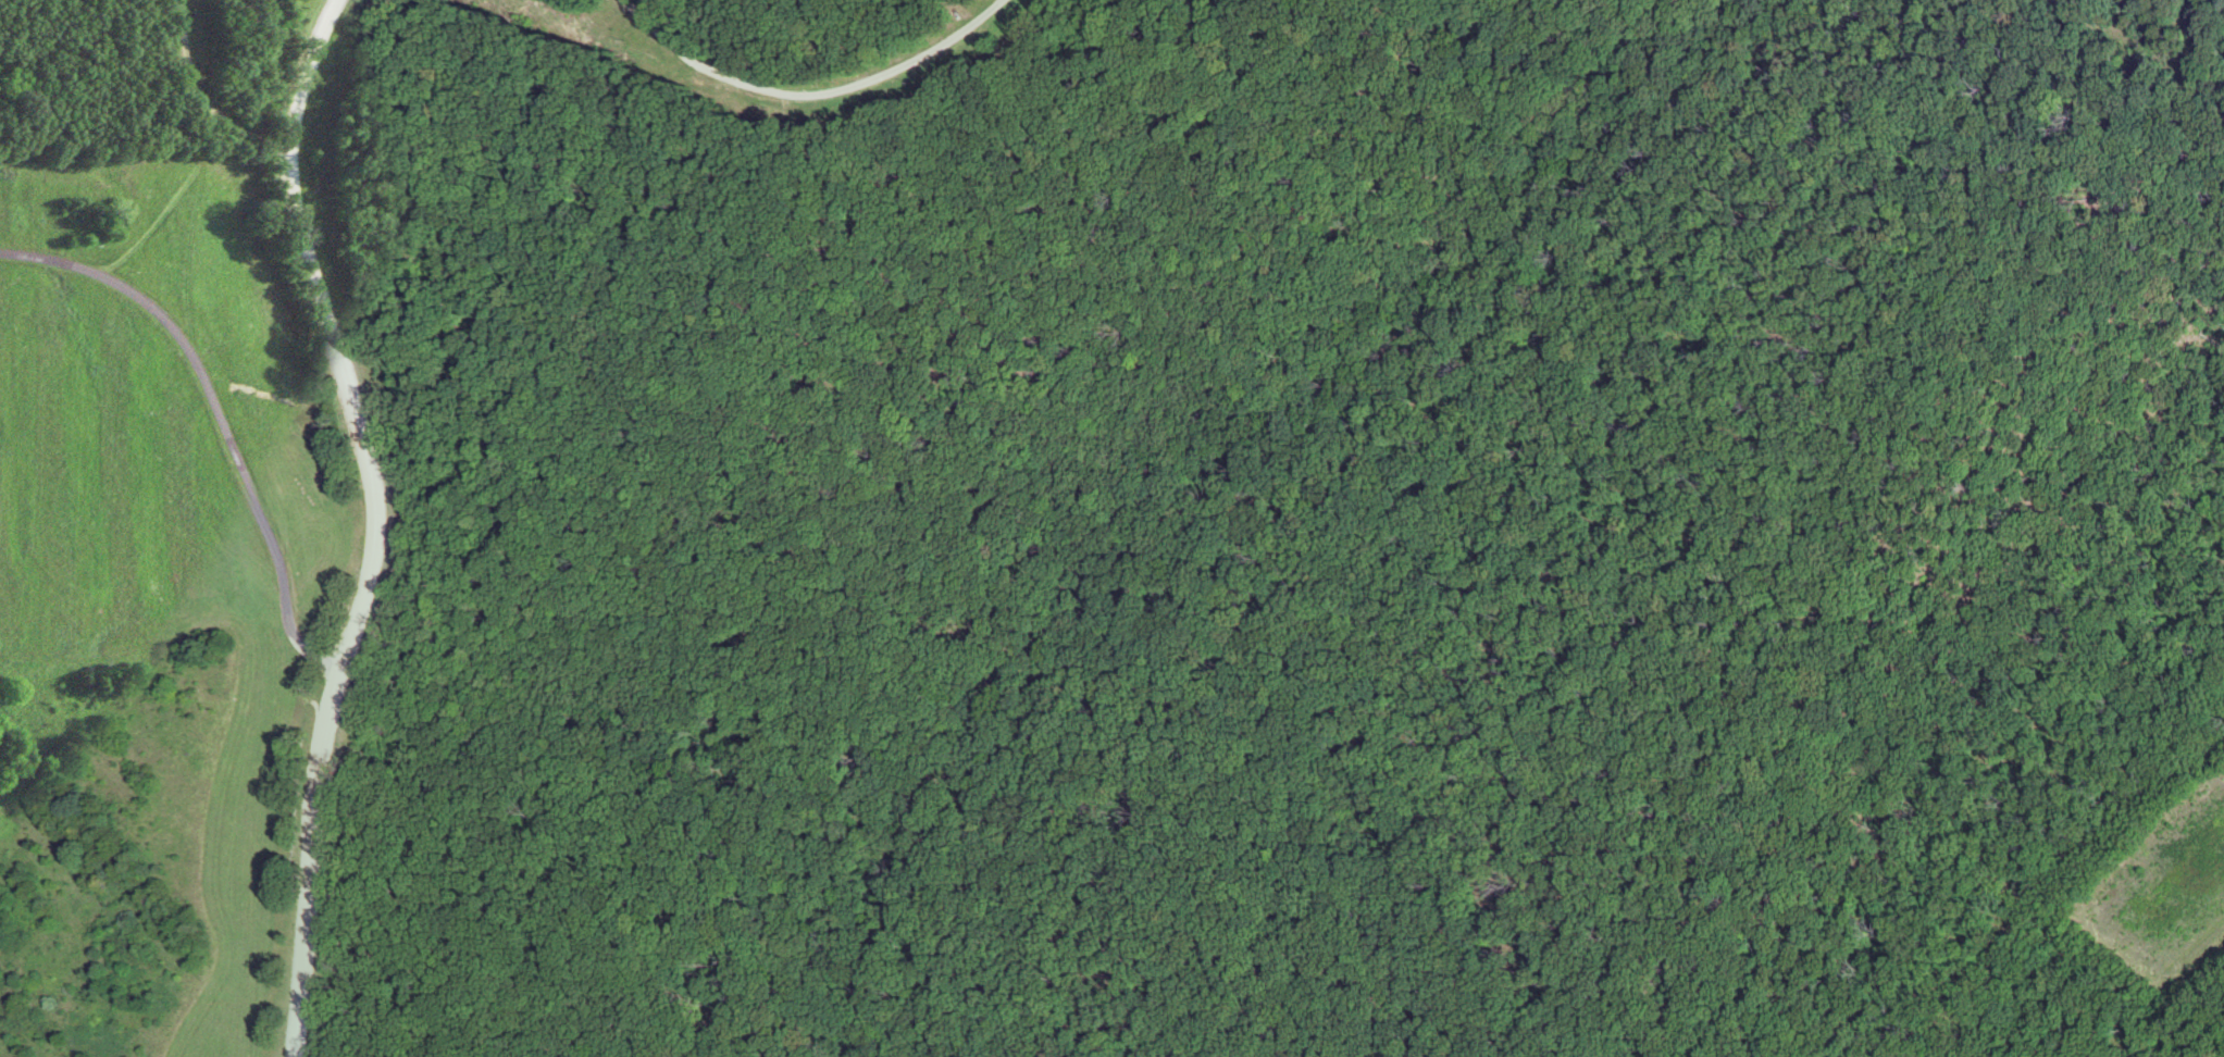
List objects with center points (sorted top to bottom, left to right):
road: (216, 416)
road: (374, 523)

